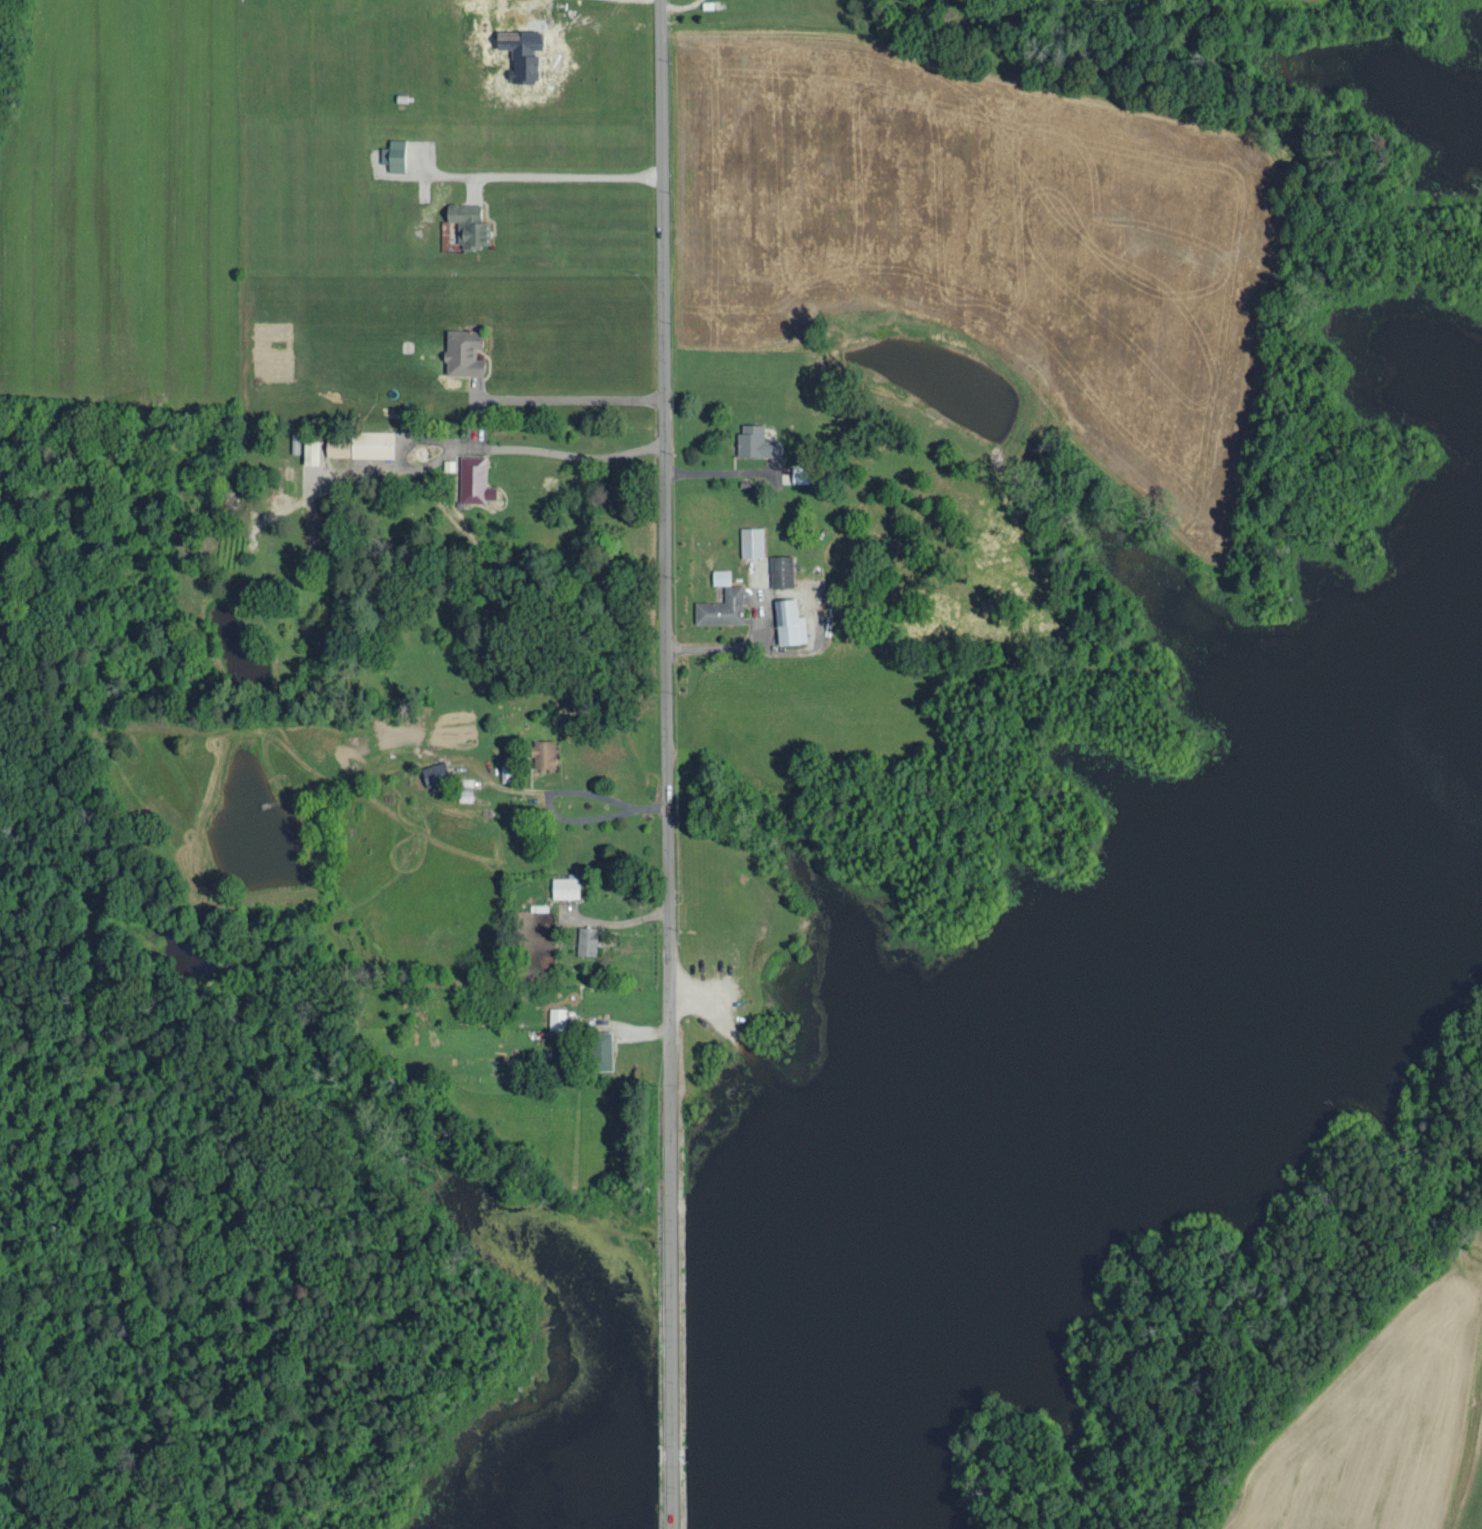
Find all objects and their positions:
building: (395, 153)
building: (470, 222)
building: (464, 351)
road: (567, 399)
building: (757, 441)
building: (373, 442)
building: (338, 445)
building: (312, 450)
road: (572, 455)
building: (801, 473)
building: (474, 478)
building: (751, 540)
building: (781, 569)
building: (722, 601)
building: (790, 621)
road: (866, 644)
building: (544, 752)
road: (667, 764)
building: (436, 771)
building: (565, 886)
building: (587, 939)
building: (557, 1017)
building: (603, 1049)

